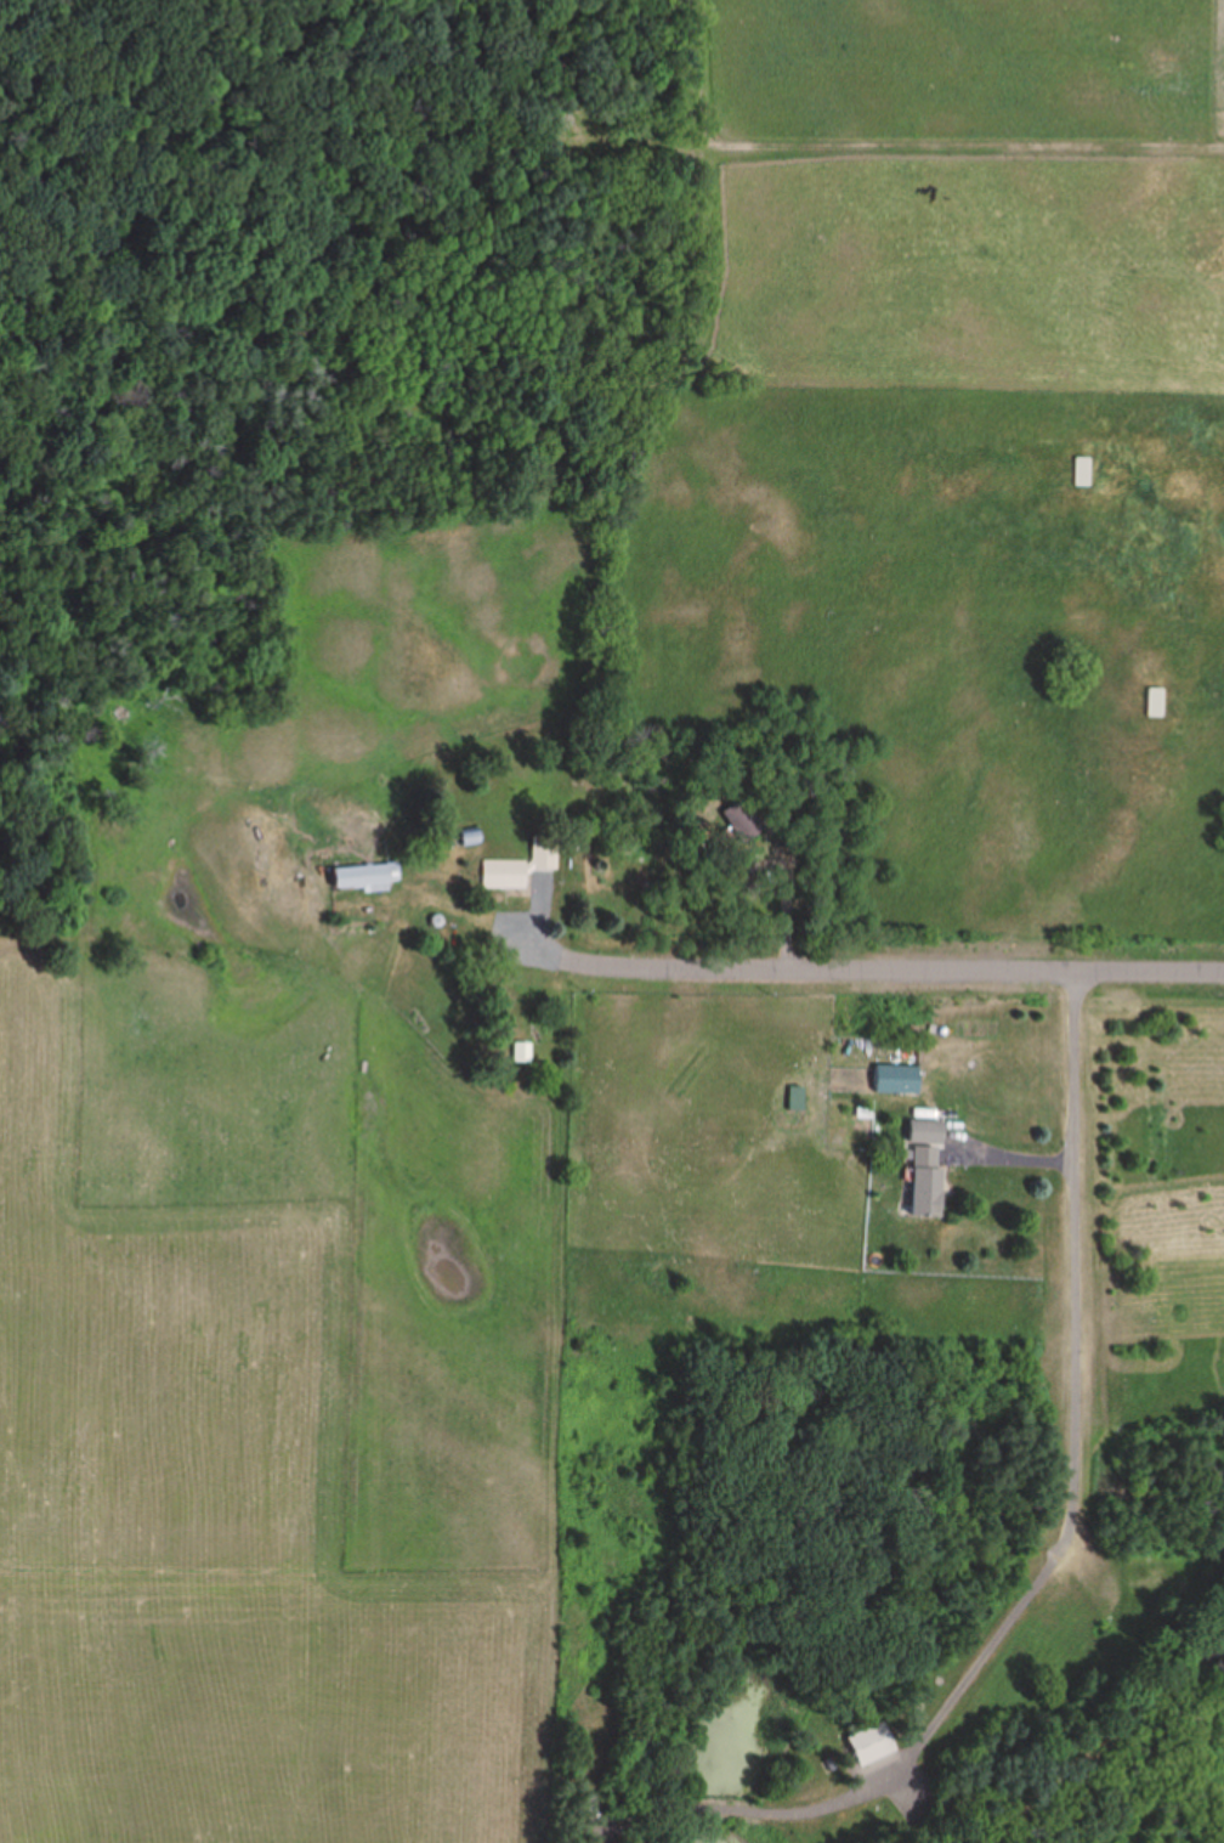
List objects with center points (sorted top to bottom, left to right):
building: (1078, 473)
building: (1151, 703)
building: (743, 821)
building: (467, 839)
building: (521, 867)
building: (746, 874)
building: (364, 877)
road: (916, 962)
building: (521, 1053)
building: (896, 1081)
building: (795, 1101)
building: (924, 1133)
building: (924, 1183)
road: (1070, 1253)
crop: (283, 1380)
road: (1107, 1745)
building: (871, 1746)

